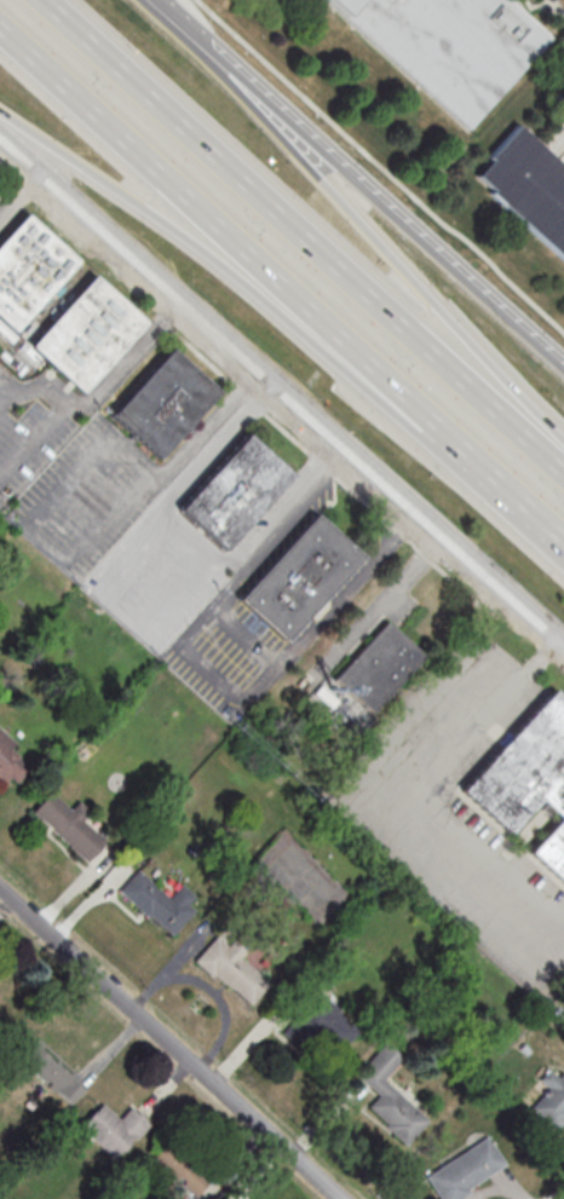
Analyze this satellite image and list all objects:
road: (166, 10)
building: (448, 45)
road: (269, 96)
road: (25, 129)
road: (381, 166)
building: (528, 189)
road: (22, 195)
road: (368, 229)
road: (304, 236)
road: (461, 266)
road: (264, 267)
building: (57, 305)
road: (292, 324)
road: (104, 386)
road: (282, 387)
building: (163, 403)
road: (563, 438)
road: (35, 439)
road: (186, 452)
road: (322, 463)
road: (179, 484)
building: (234, 490)
road: (545, 526)
road: (44, 546)
building: (298, 576)
road: (384, 601)
road: (248, 636)
building: (375, 667)
road: (213, 675)
building: (322, 697)
building: (8, 760)
building: (528, 779)
road: (419, 791)
building: (68, 828)
building: (152, 904)
building: (231, 969)
building: (317, 1024)
road: (168, 1044)
building: (42, 1065)
building: (551, 1100)
building: (391, 1107)
building: (111, 1129)
building: (182, 1168)
building: (467, 1170)

